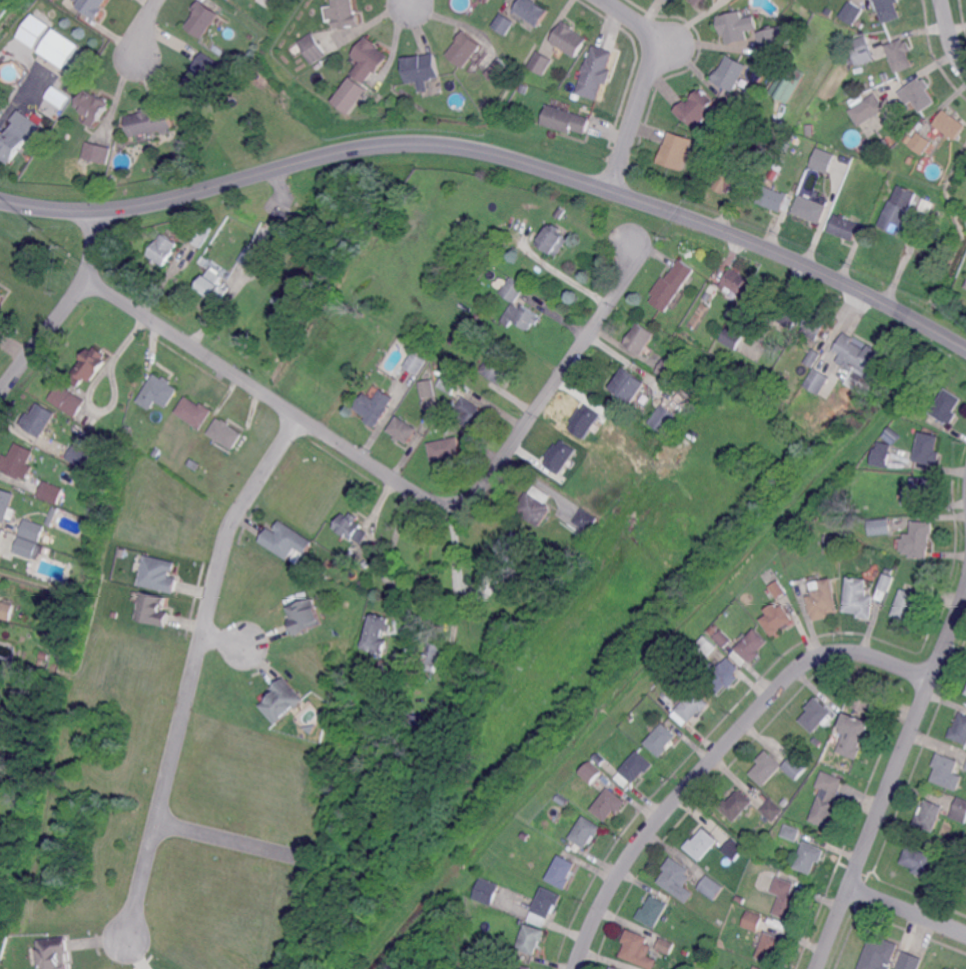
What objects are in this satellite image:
building: (702, 2)
building: (268, 3)
road: (412, 3)
building: (92, 6)
building: (532, 10)
building: (888, 10)
building: (342, 12)
building: (851, 12)
building: (202, 17)
building: (503, 24)
building: (736, 26)
building: (801, 28)
building: (33, 30)
road: (138, 32)
building: (775, 37)
road: (949, 37)
building: (569, 40)
building: (312, 47)
building: (464, 48)
building: (60, 49)
building: (296, 49)
building: (861, 53)
building: (900, 54)
building: (369, 58)
building: (541, 62)
building: (421, 68)
building: (498, 70)
building: (204, 72)
building: (597, 72)
building: (731, 73)
building: (884, 76)
building: (788, 83)
road: (644, 84)
building: (523, 87)
building: (349, 94)
building: (918, 94)
building: (58, 95)
building: (481, 95)
building: (441, 97)
road: (17, 99)
building: (94, 104)
building: (697, 107)
building: (740, 108)
building: (867, 109)
building: (473, 111)
building: (0, 113)
building: (1, 115)
building: (566, 119)
building: (149, 120)
building: (950, 124)
building: (15, 142)
building: (921, 142)
building: (886, 145)
building: (758, 147)
building: (787, 147)
building: (676, 150)
building: (96, 151)
road: (497, 152)
building: (822, 159)
building: (911, 159)
building: (696, 170)
building: (772, 171)
road: (745, 172)
building: (728, 173)
building: (98, 179)
building: (112, 182)
building: (774, 200)
building: (810, 209)
building: (898, 210)
building: (559, 211)
building: (283, 213)
building: (845, 227)
building: (200, 233)
building: (260, 239)
building: (553, 240)
building: (161, 251)
building: (249, 256)
building: (214, 265)
road: (559, 273)
building: (733, 281)
building: (212, 285)
building: (671, 285)
building: (965, 286)
building: (513, 289)
building: (1, 295)
building: (708, 297)
road: (65, 306)
building: (790, 314)
building: (521, 316)
building: (815, 326)
building: (639, 337)
building: (732, 337)
building: (813, 357)
building: (858, 362)
building: (415, 363)
building: (89, 365)
building: (499, 366)
building: (667, 368)
building: (701, 369)
building: (818, 381)
building: (449, 382)
building: (629, 384)
building: (427, 388)
building: (158, 393)
building: (916, 393)
building: (67, 399)
building: (773, 403)
building: (795, 403)
building: (947, 406)
building: (374, 407)
building: (194, 413)
building: (470, 413)
building: (663, 419)
building: (582, 420)
building: (37, 421)
building: (444, 424)
building: (403, 429)
building: (127, 431)
building: (894, 433)
building: (225, 434)
building: (889, 437)
building: (446, 448)
building: (929, 448)
building: (156, 452)
building: (881, 454)
building: (78, 455)
building: (559, 455)
building: (18, 461)
building: (191, 462)
building: (89, 463)
road: (403, 485)
building: (920, 491)
building: (52, 492)
building: (7, 504)
building: (534, 504)
building: (53, 515)
building: (583, 523)
building: (879, 527)
building: (352, 528)
building: (33, 529)
building: (817, 533)
building: (45, 536)
building: (0, 537)
road: (398, 538)
building: (919, 540)
building: (286, 541)
building: (831, 543)
building: (29, 546)
building: (123, 553)
building: (508, 554)
building: (890, 571)
building: (159, 575)
building: (887, 583)
building: (778, 589)
building: (824, 598)
building: (859, 599)
building: (908, 604)
building: (7, 609)
building: (153, 609)
building: (116, 615)
building: (305, 617)
building: (776, 619)
building: (712, 629)
building: (376, 636)
building: (705, 638)
building: (723, 638)
road: (228, 639)
building: (750, 647)
building: (44, 655)
building: (431, 656)
road: (189, 667)
building: (401, 670)
building: (677, 670)
building: (723, 676)
building: (285, 698)
building: (865, 698)
building: (691, 708)
building: (816, 714)
building: (632, 717)
building: (415, 722)
building: (960, 729)
building: (853, 736)
building: (15, 737)
building: (661, 739)
building: (817, 742)
building: (624, 743)
road: (717, 753)
building: (628, 754)
building: (638, 766)
building: (965, 767)
building: (766, 768)
building: (795, 768)
building: (947, 771)
building: (592, 772)
road: (890, 781)
building: (828, 798)
building: (562, 799)
building: (785, 800)
building: (609, 804)
building: (736, 805)
building: (772, 810)
building: (959, 811)
building: (929, 815)
building: (586, 831)
building: (791, 833)
building: (525, 836)
road: (220, 840)
building: (701, 844)
building: (734, 849)
building: (938, 853)
building: (758, 855)
building: (810, 856)
building: (917, 861)
building: (708, 867)
building: (562, 872)
building: (677, 879)
building: (711, 887)
building: (487, 891)
building: (786, 899)
building: (741, 900)
building: (546, 906)
road: (907, 910)
building: (653, 911)
building: (719, 919)
building: (753, 920)
building: (532, 938)
building: (487, 944)
building: (666, 944)
building: (770, 948)
building: (639, 949)
building: (687, 950)
building: (54, 953)
building: (879, 955)
building: (909, 961)
building: (522, 966)
building: (614, 967)
building: (757, 968)
building: (949, 968)

